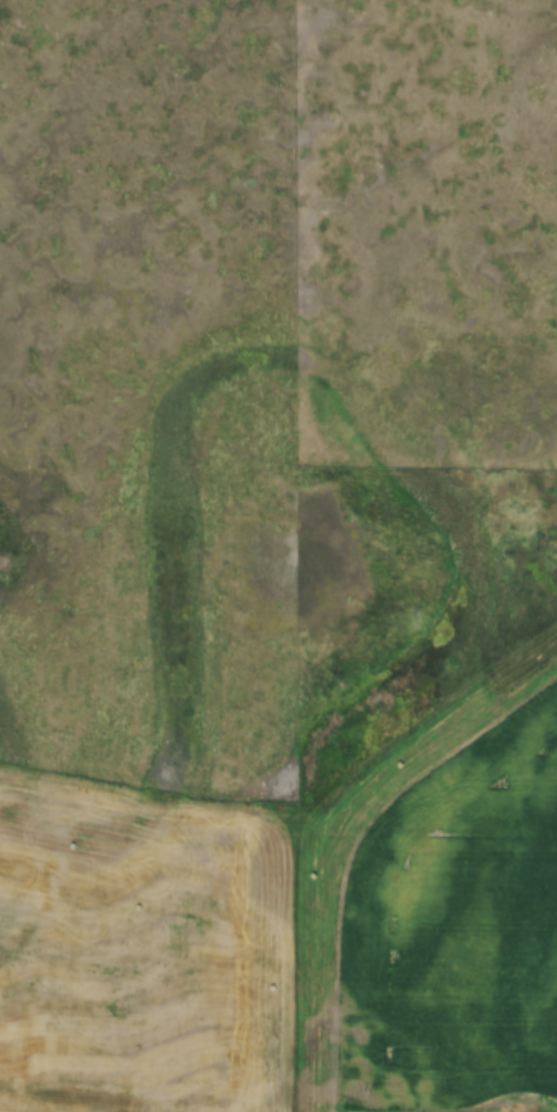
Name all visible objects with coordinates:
road: (349, 840)

